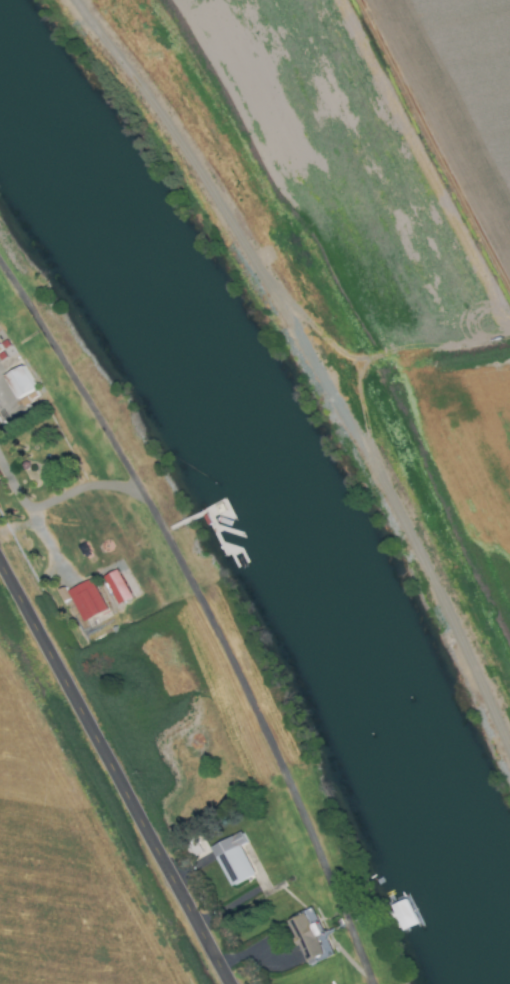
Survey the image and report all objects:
crop: (367, 221)
building: (19, 382)
road: (28, 513)
building: (115, 586)
building: (84, 599)
road: (238, 678)
road: (114, 773)
building: (231, 858)
crop: (69, 864)
building: (303, 933)

